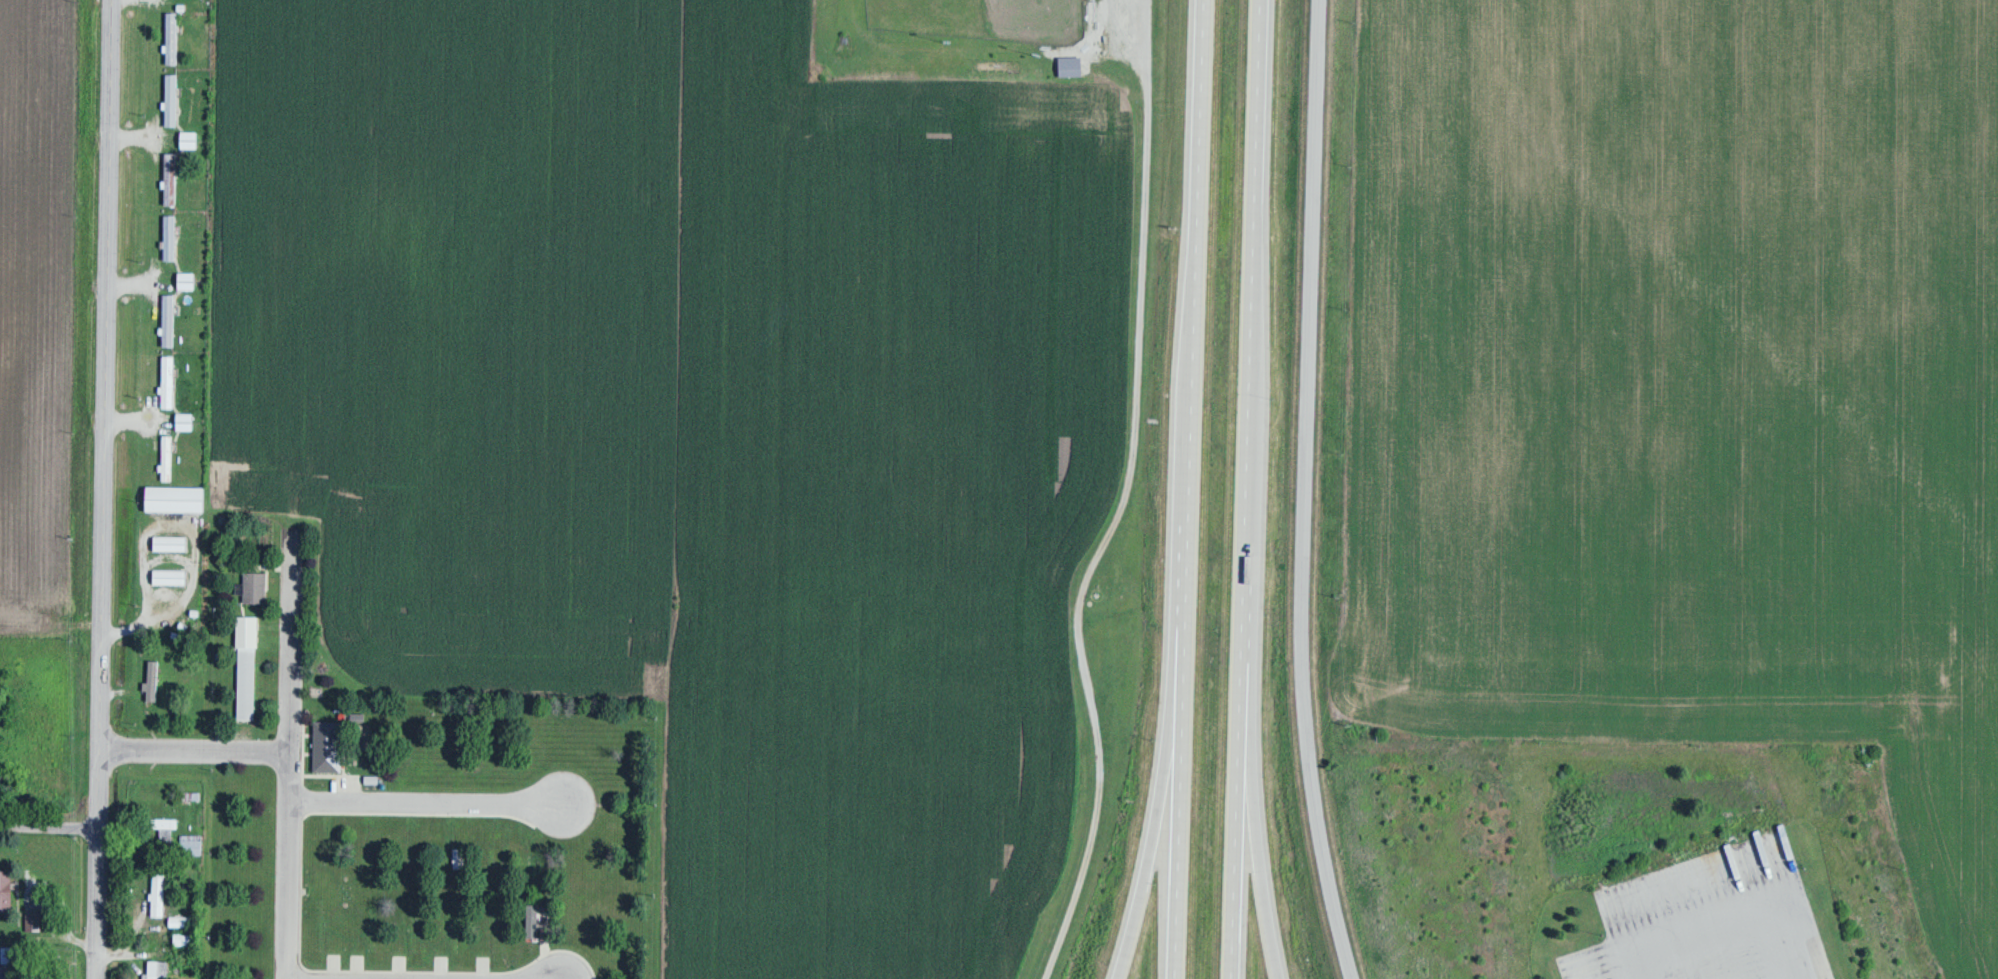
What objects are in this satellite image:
park: (984, 17)
building: (172, 37)
building: (1073, 66)
building: (171, 99)
building: (191, 139)
building: (171, 178)
building: (170, 236)
building: (188, 280)
building: (168, 319)
building: (168, 381)
building: (186, 420)
building: (167, 456)
road: (102, 489)
road: (1189, 489)
road: (1242, 489)
road: (1305, 491)
building: (178, 497)
road: (1126, 500)
building: (172, 541)
building: (172, 575)
building: (256, 585)
building: (249, 665)
building: (152, 679)
building: (330, 745)
road: (195, 752)
road: (290, 754)
building: (1230, 756)
road: (425, 800)
road: (1254, 802)
road: (1160, 817)
road: (49, 827)
building: (167, 827)
building: (192, 839)
building: (7, 889)
building: (160, 891)
building: (184, 920)
building: (183, 938)
building: (159, 968)

